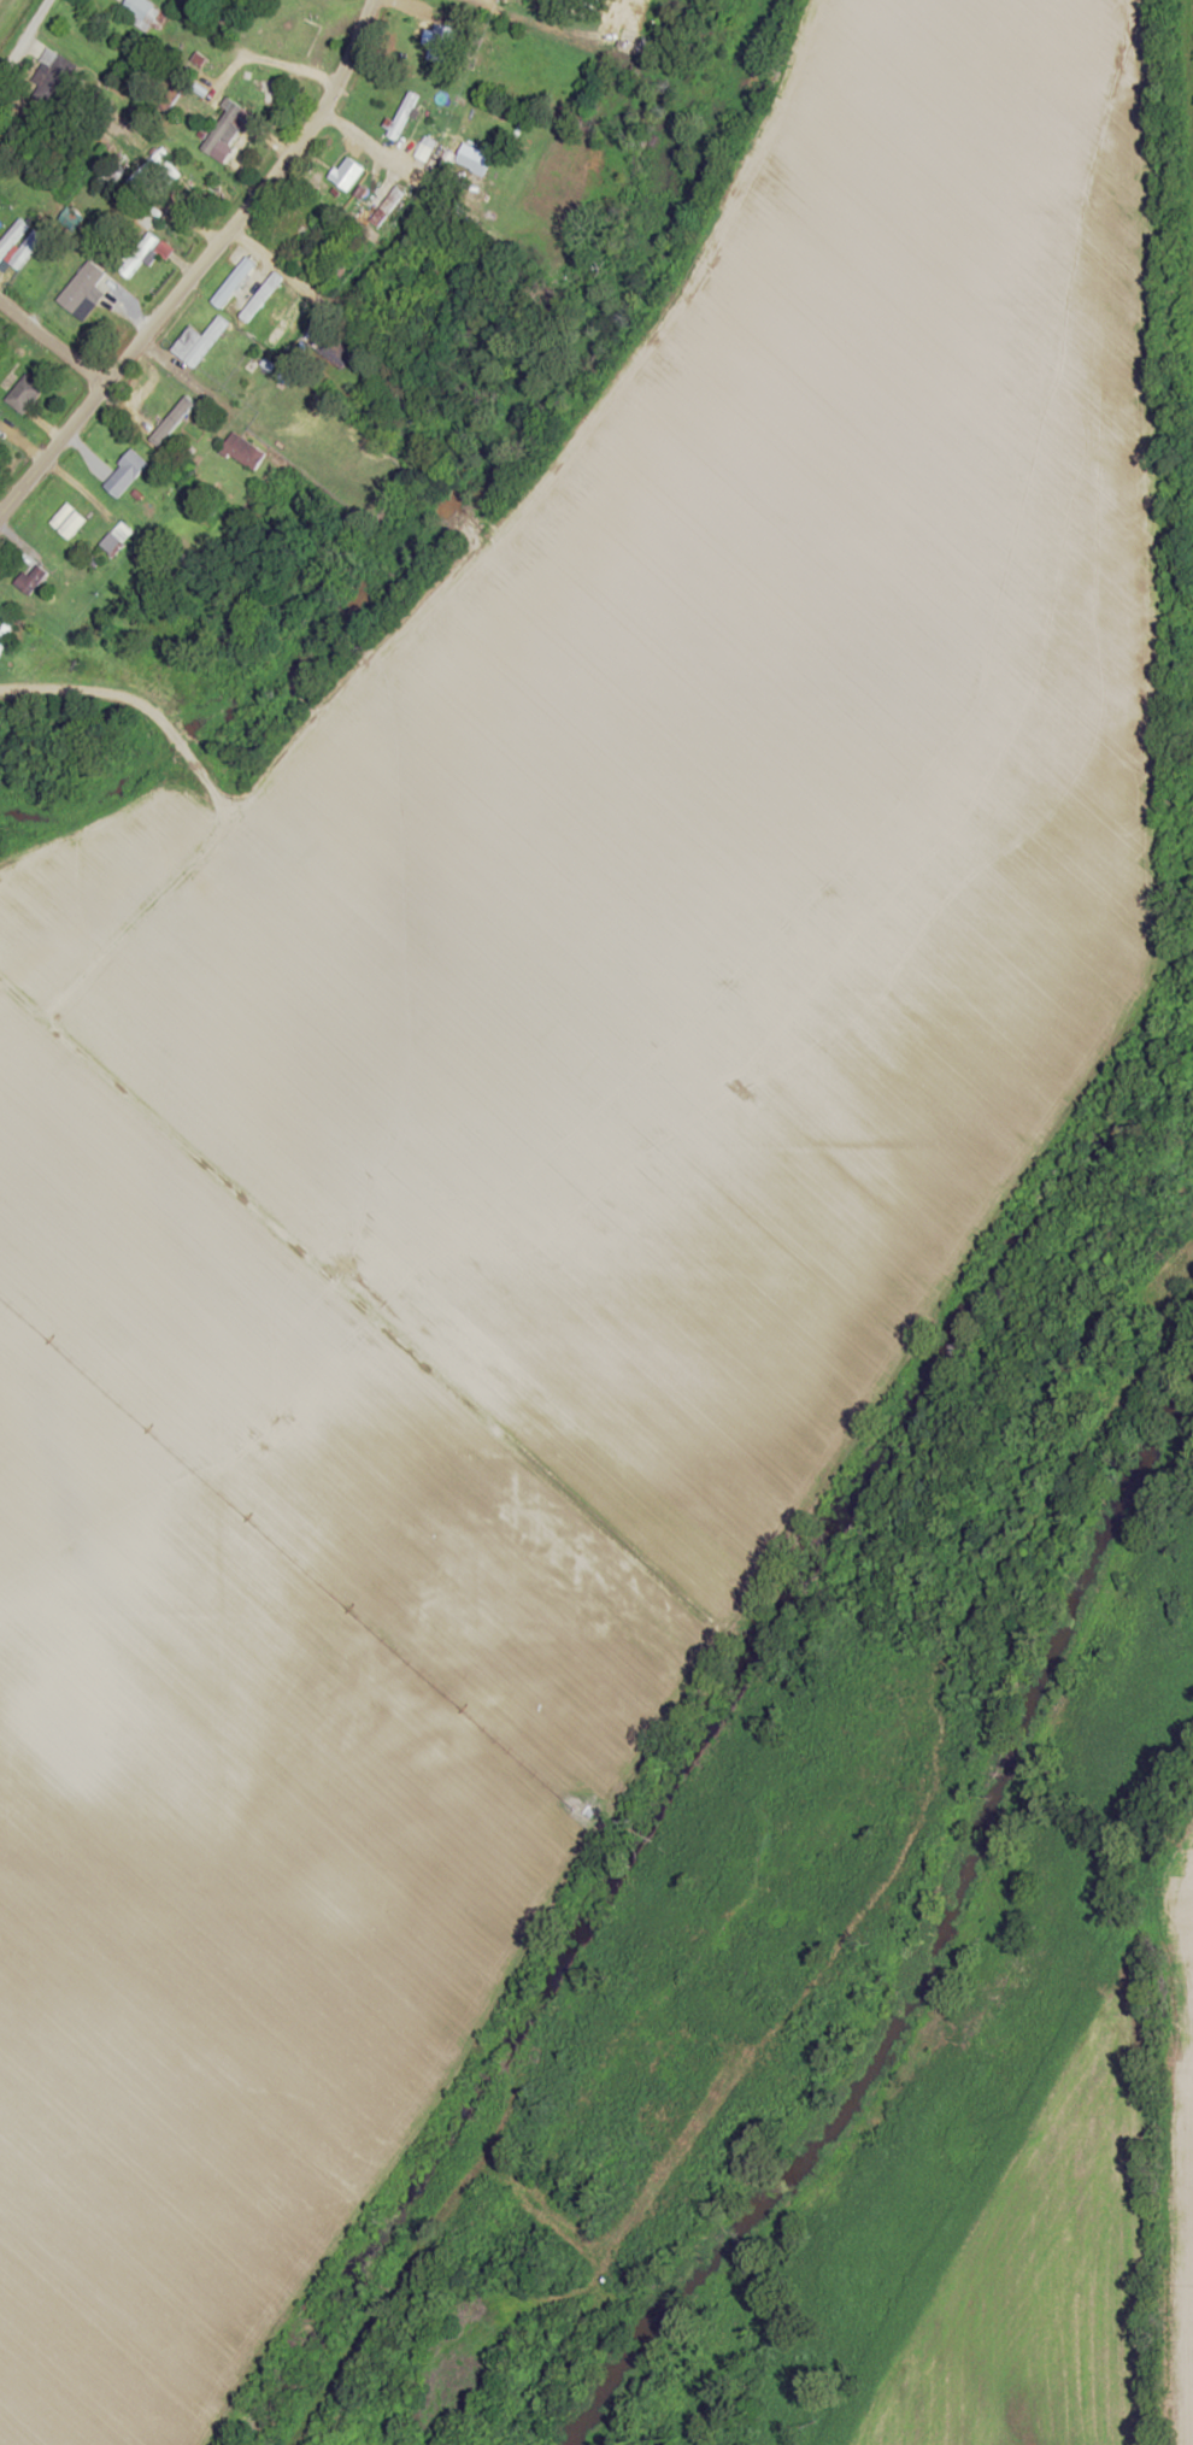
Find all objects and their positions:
building: (142, 13)
building: (296, 27)
building: (443, 43)
road: (253, 61)
building: (47, 80)
building: (410, 104)
building: (223, 128)
road: (369, 145)
building: (475, 159)
building: (154, 169)
building: (347, 174)
building: (11, 239)
building: (143, 245)
road: (196, 265)
building: (234, 283)
road: (293, 290)
building: (255, 302)
building: (87, 319)
building: (199, 342)
road: (51, 346)
building: (336, 352)
building: (25, 394)
building: (0, 448)
building: (245, 451)
building: (129, 470)
building: (33, 580)
road: (146, 709)

